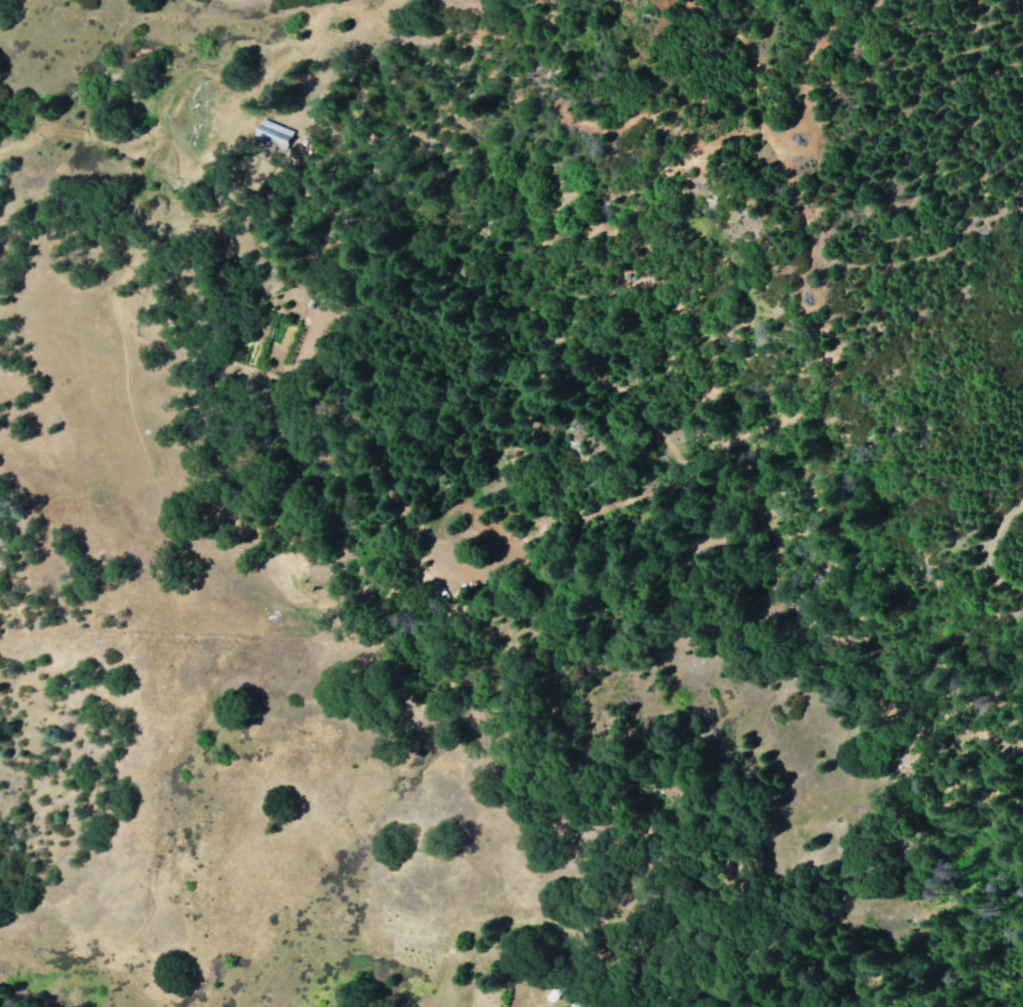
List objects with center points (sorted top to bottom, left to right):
building: (272, 131)
road: (830, 597)

